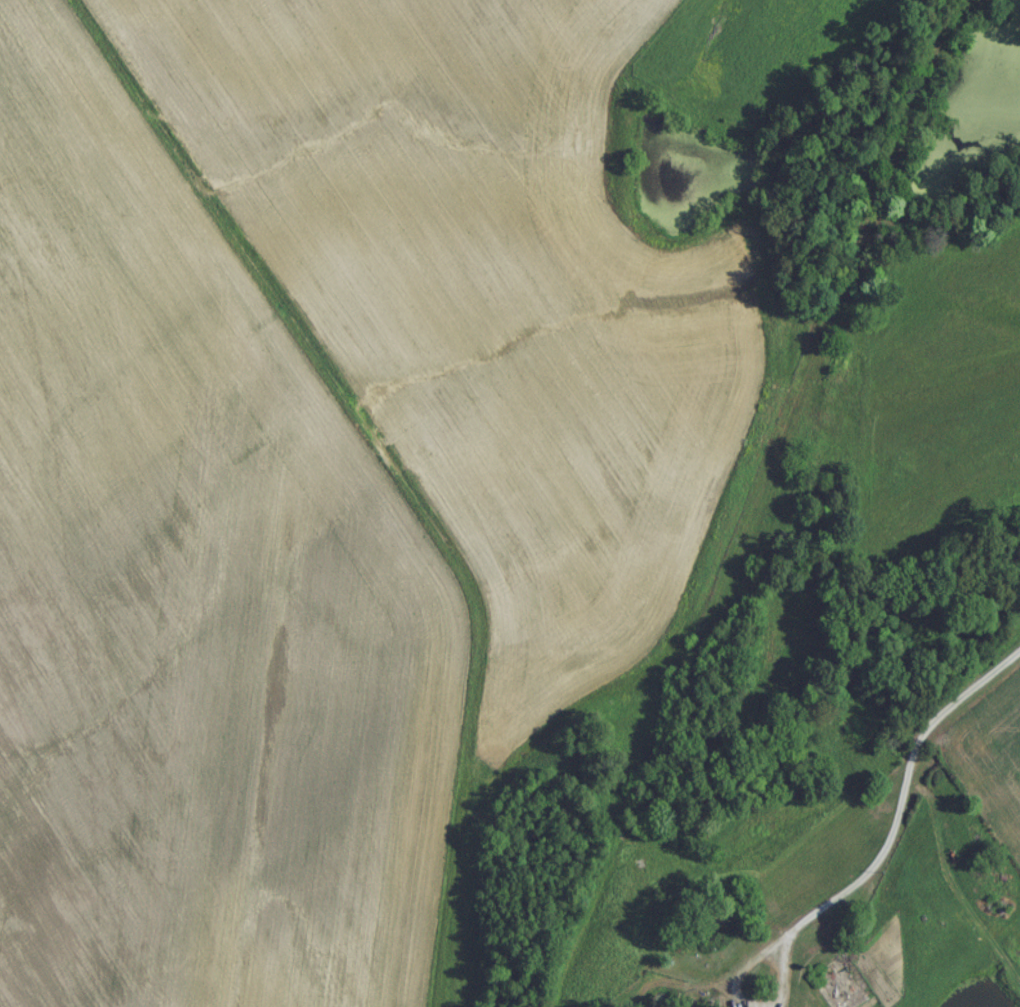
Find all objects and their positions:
road: (897, 801)

